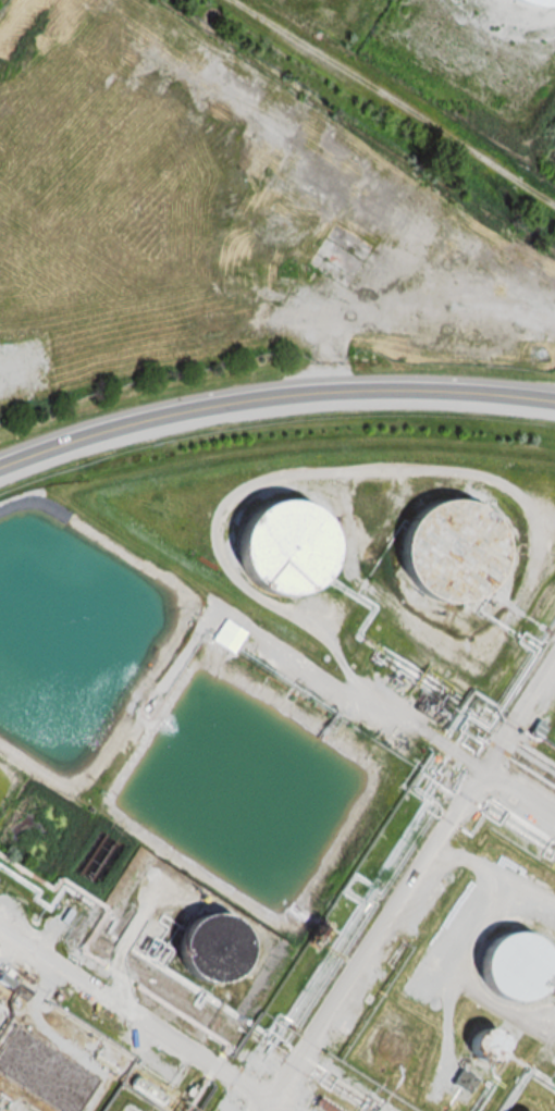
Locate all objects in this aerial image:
power plant: (472, 69)
road: (272, 395)
road: (318, 682)
road: (518, 717)
road: (518, 799)
road: (377, 939)
road: (136, 1017)
road: (269, 1107)
road: (277, 1107)

